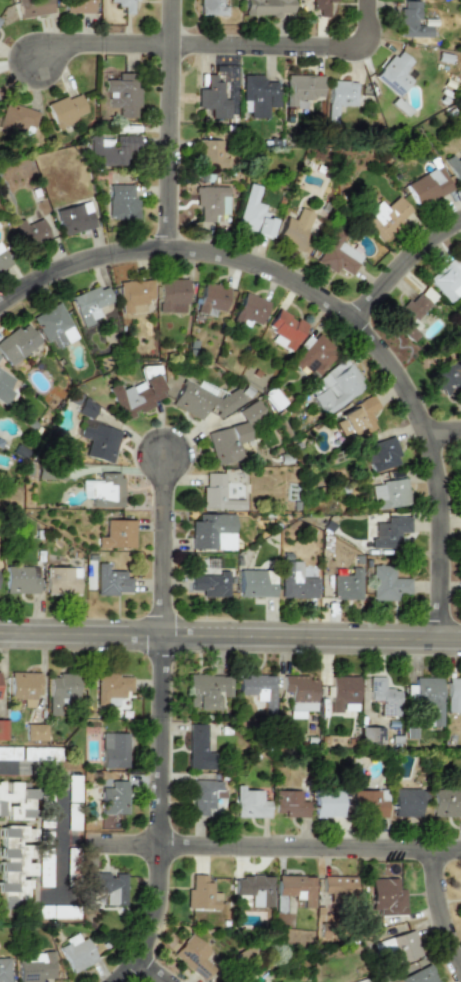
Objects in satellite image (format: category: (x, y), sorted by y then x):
building: (123, 5)
building: (78, 6)
building: (321, 6)
building: (33, 7)
building: (209, 7)
building: (266, 7)
building: (0, 19)
building: (411, 21)
road: (365, 23)
road: (197, 45)
building: (394, 73)
building: (301, 89)
building: (258, 94)
building: (122, 95)
building: (339, 96)
building: (212, 98)
building: (65, 109)
building: (17, 119)
road: (167, 125)
building: (112, 149)
building: (212, 153)
building: (455, 167)
building: (427, 185)
building: (121, 202)
building: (211, 203)
building: (252, 213)
building: (385, 217)
building: (74, 218)
building: (294, 231)
building: (30, 233)
building: (335, 253)
building: (3, 260)
road: (398, 265)
building: (447, 279)
building: (134, 295)
building: (172, 296)
building: (211, 298)
building: (90, 303)
building: (249, 310)
building: (411, 312)
road: (334, 314)
building: (54, 326)
building: (284, 329)
building: (17, 343)
building: (314, 356)
building: (149, 371)
building: (445, 378)
building: (4, 386)
building: (334, 387)
building: (136, 395)
building: (203, 401)
building: (85, 408)
building: (251, 413)
building: (355, 418)
road: (439, 430)
building: (99, 441)
building: (226, 442)
building: (381, 454)
building: (103, 490)
building: (217, 494)
building: (389, 494)
building: (212, 531)
building: (389, 531)
building: (117, 534)
building: (21, 579)
building: (62, 580)
building: (111, 581)
building: (296, 582)
building: (256, 583)
building: (211, 584)
building: (387, 584)
building: (346, 585)
road: (230, 637)
building: (23, 686)
building: (110, 688)
building: (258, 688)
building: (206, 690)
building: (59, 691)
building: (343, 693)
building: (299, 694)
building: (452, 694)
building: (383, 695)
building: (426, 698)
road: (164, 725)
building: (2, 729)
building: (33, 732)
building: (371, 735)
building: (198, 749)
building: (113, 750)
building: (203, 795)
building: (113, 798)
building: (15, 801)
road: (56, 802)
building: (405, 802)
building: (250, 803)
building: (290, 803)
building: (327, 803)
building: (369, 803)
building: (445, 803)
road: (274, 848)
building: (14, 861)
building: (338, 886)
building: (107, 887)
building: (296, 888)
building: (254, 889)
building: (201, 894)
building: (386, 896)
road: (437, 918)
building: (400, 947)
building: (75, 952)
building: (193, 956)
building: (35, 967)
building: (3, 969)
road: (148, 970)
building: (420, 975)

